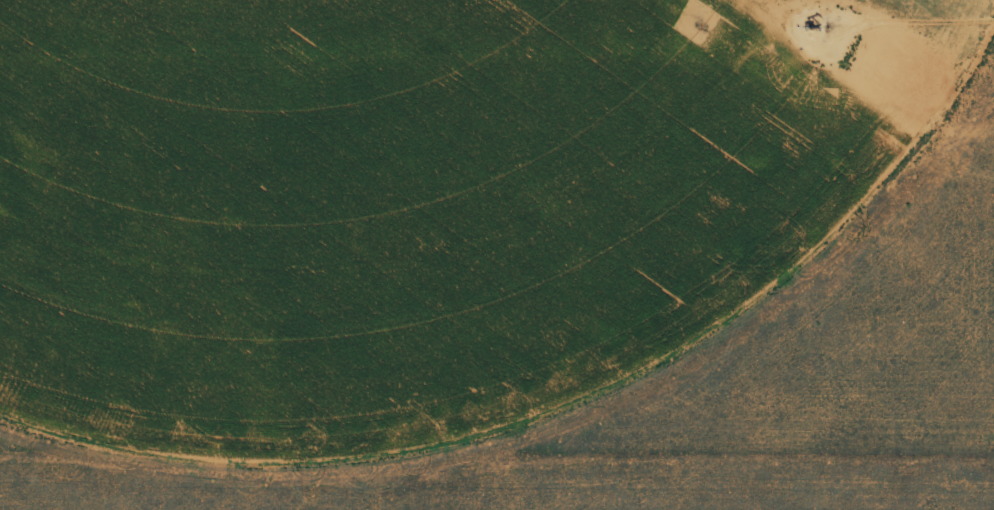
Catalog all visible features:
road: (233, 4)
petroleum well: (810, 24)

